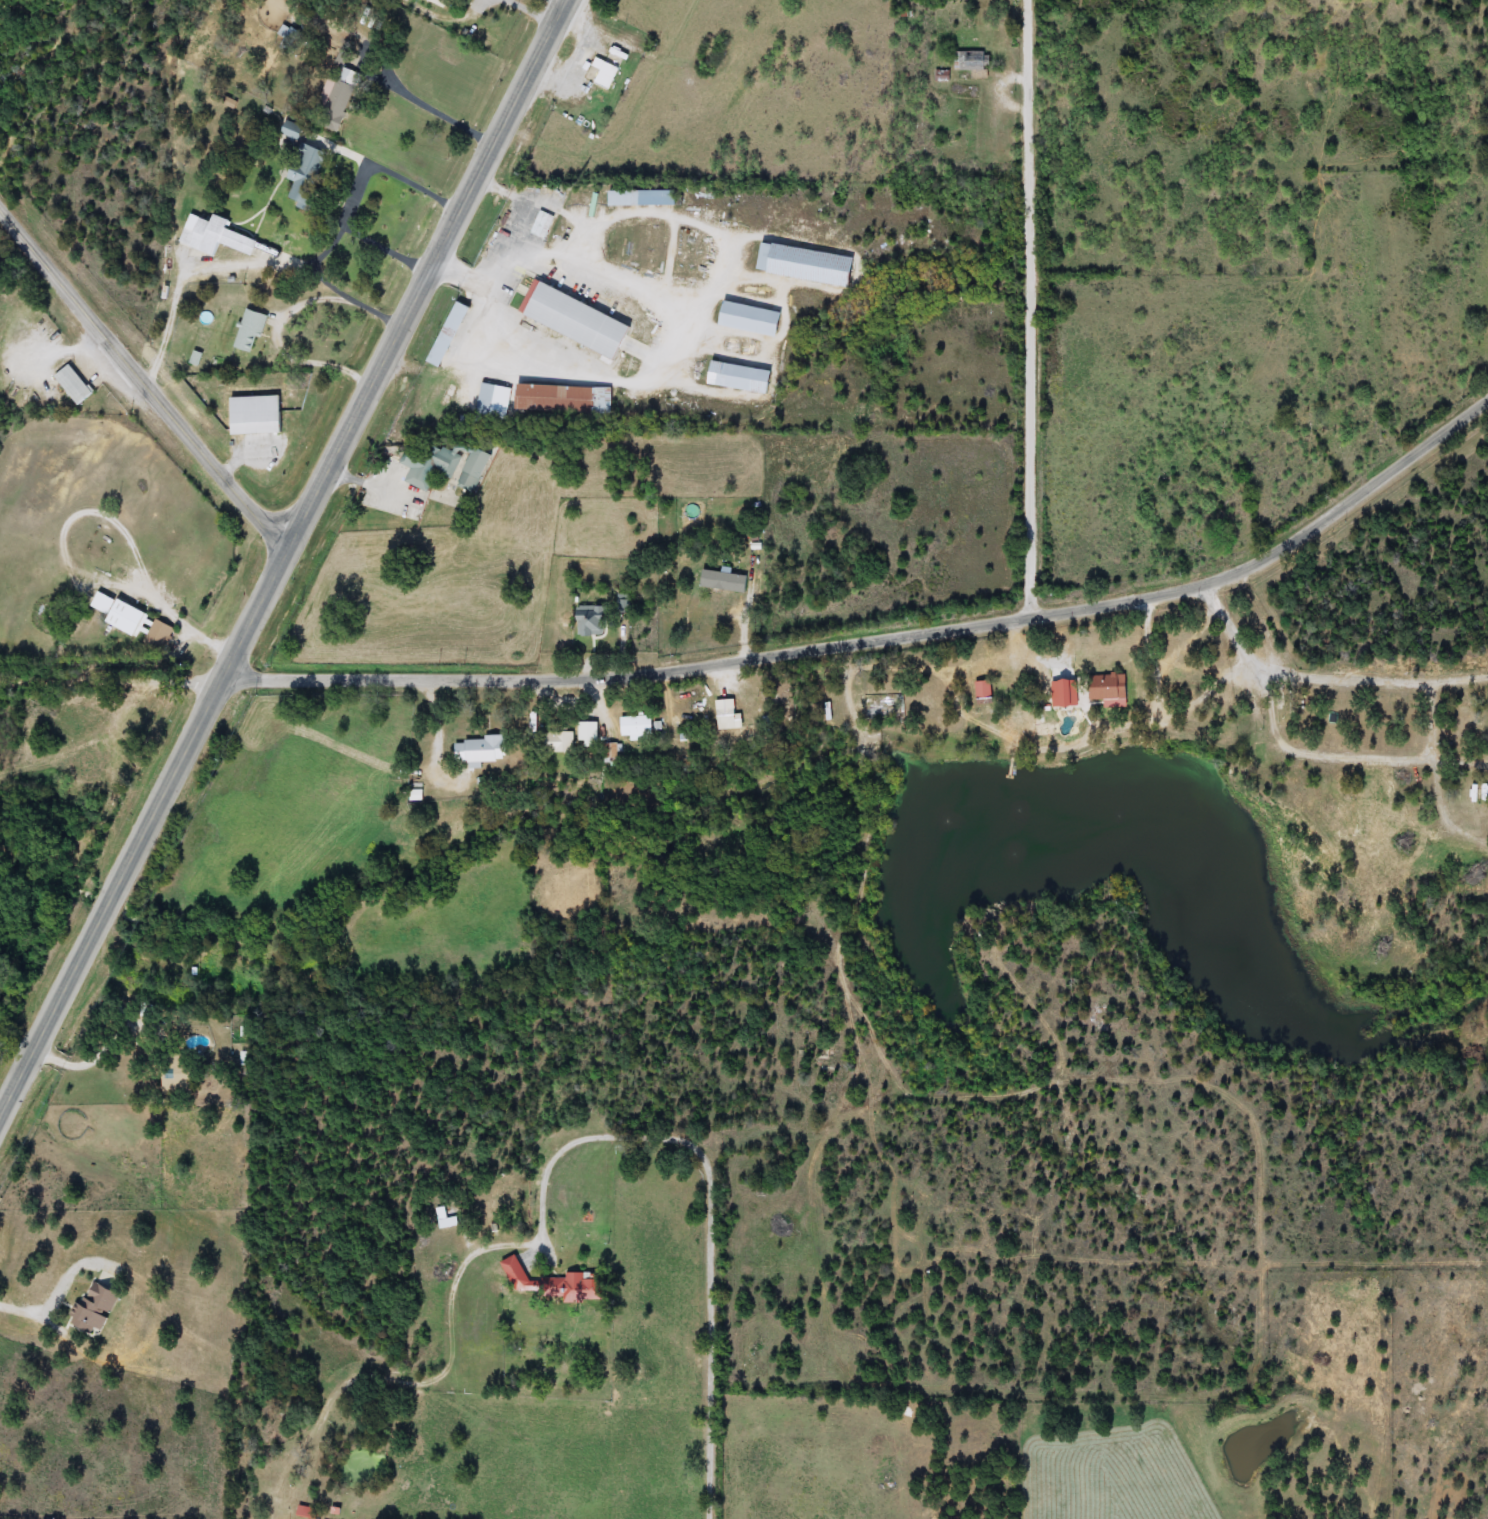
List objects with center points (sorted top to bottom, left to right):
building: (441, 4)
road: (623, 35)
building: (969, 60)
building: (603, 76)
building: (336, 100)
road: (440, 110)
building: (302, 175)
road: (401, 177)
road: (487, 187)
road: (503, 193)
building: (633, 198)
building: (539, 225)
road: (360, 234)
building: (211, 238)
road: (571, 243)
building: (799, 264)
road: (447, 265)
road: (431, 272)
road: (194, 274)
road: (465, 274)
road: (333, 286)
road: (1031, 306)
building: (742, 318)
building: (569, 320)
building: (246, 332)
building: (442, 335)
road: (280, 346)
building: (732, 377)
road: (145, 380)
building: (69, 384)
building: (549, 398)
building: (490, 402)
building: (256, 422)
building: (446, 466)
railway: (295, 588)
building: (621, 604)
building: (115, 615)
road: (1265, 617)
building: (587, 621)
road: (1252, 627)
road: (885, 633)
building: (156, 637)
road: (1325, 671)
road: (113, 678)
building: (1226, 700)
building: (874, 703)
building: (1071, 708)
building: (724, 717)
building: (1462, 719)
building: (638, 727)
building: (556, 743)
building: (475, 751)
road: (1341, 753)
road: (1438, 771)
building: (1470, 815)
road: (147, 831)
road: (1405, 844)
road: (18, 1041)
road: (1087, 1077)
road: (456, 1278)
building: (548, 1283)
road: (61, 1286)
road: (712, 1333)
building: (307, 1512)

